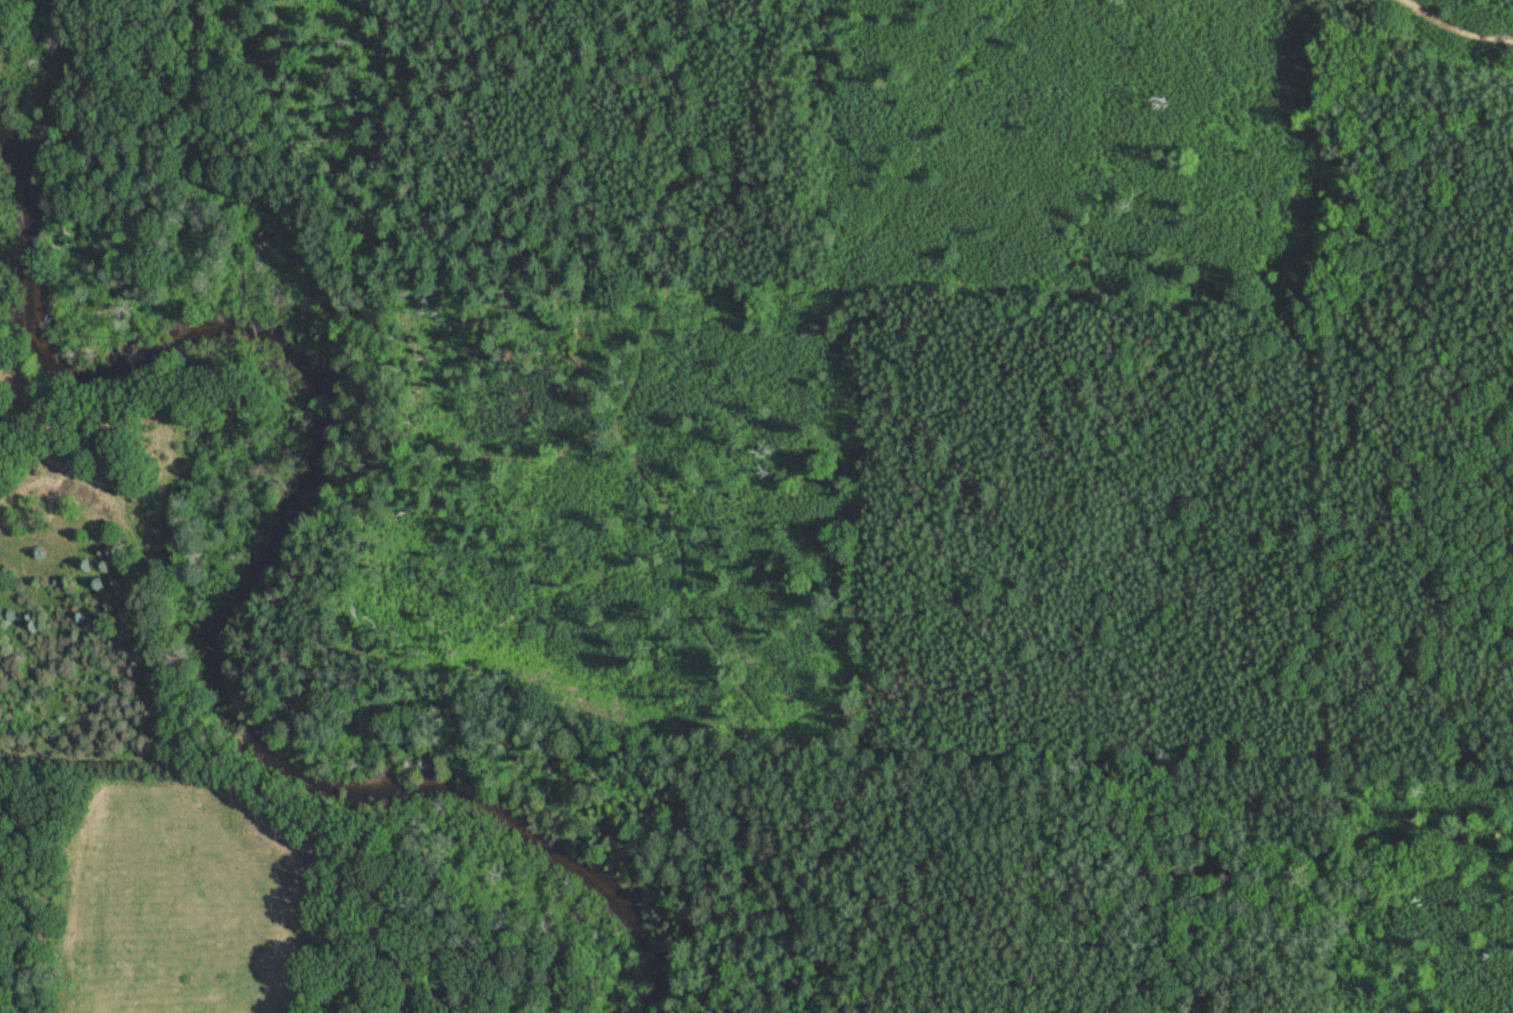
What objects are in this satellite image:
river: (251, 567)

